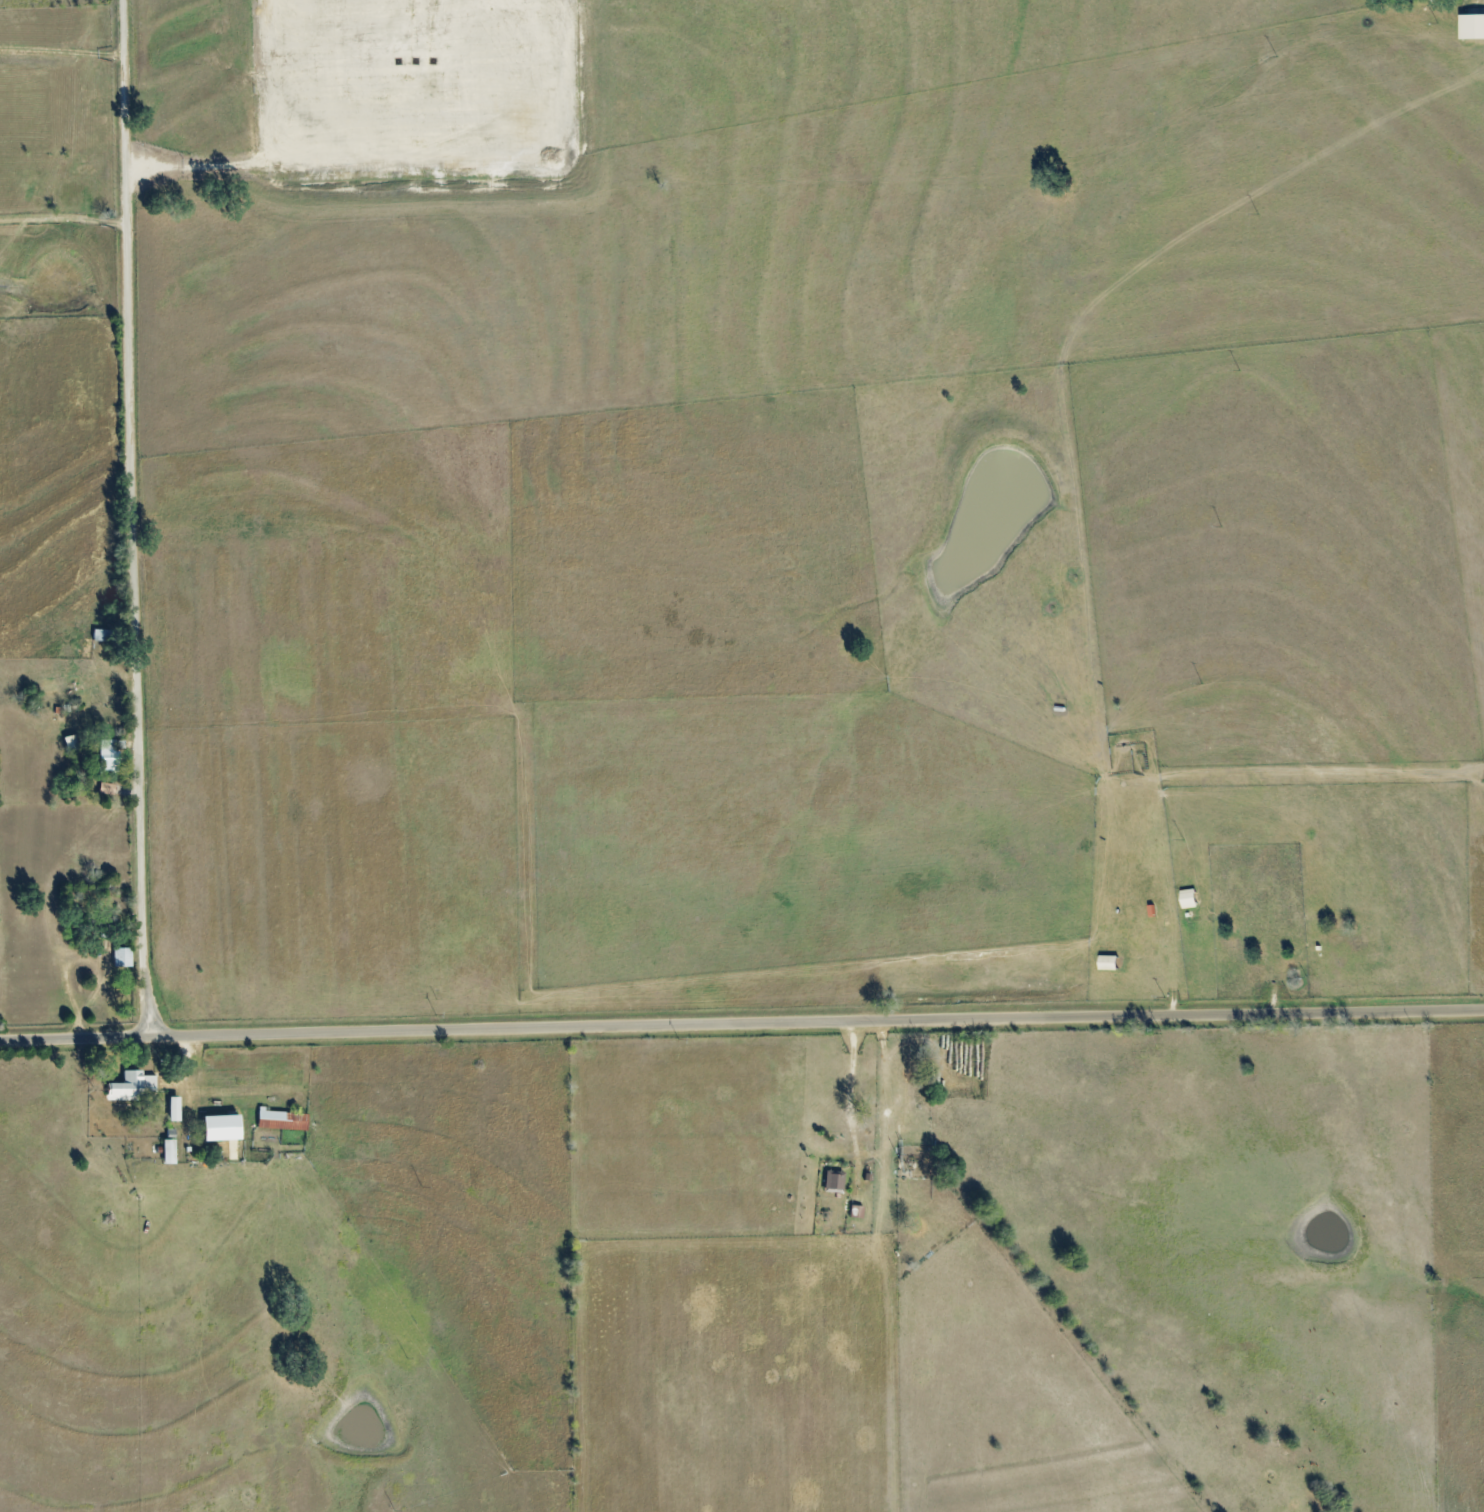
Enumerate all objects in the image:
building: (1471, 27)
road: (62, 215)
road: (131, 517)
building: (112, 756)
building: (1187, 898)
building: (123, 957)
building: (1107, 962)
road: (741, 1019)
building: (133, 1086)
building: (176, 1109)
building: (281, 1120)
building: (225, 1127)

